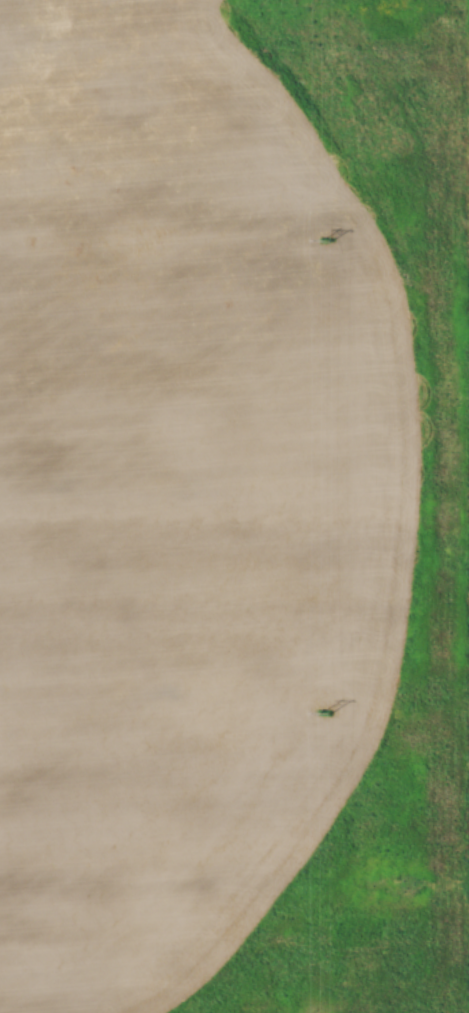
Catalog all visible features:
power tower: (323, 242)
power tower: (323, 716)

